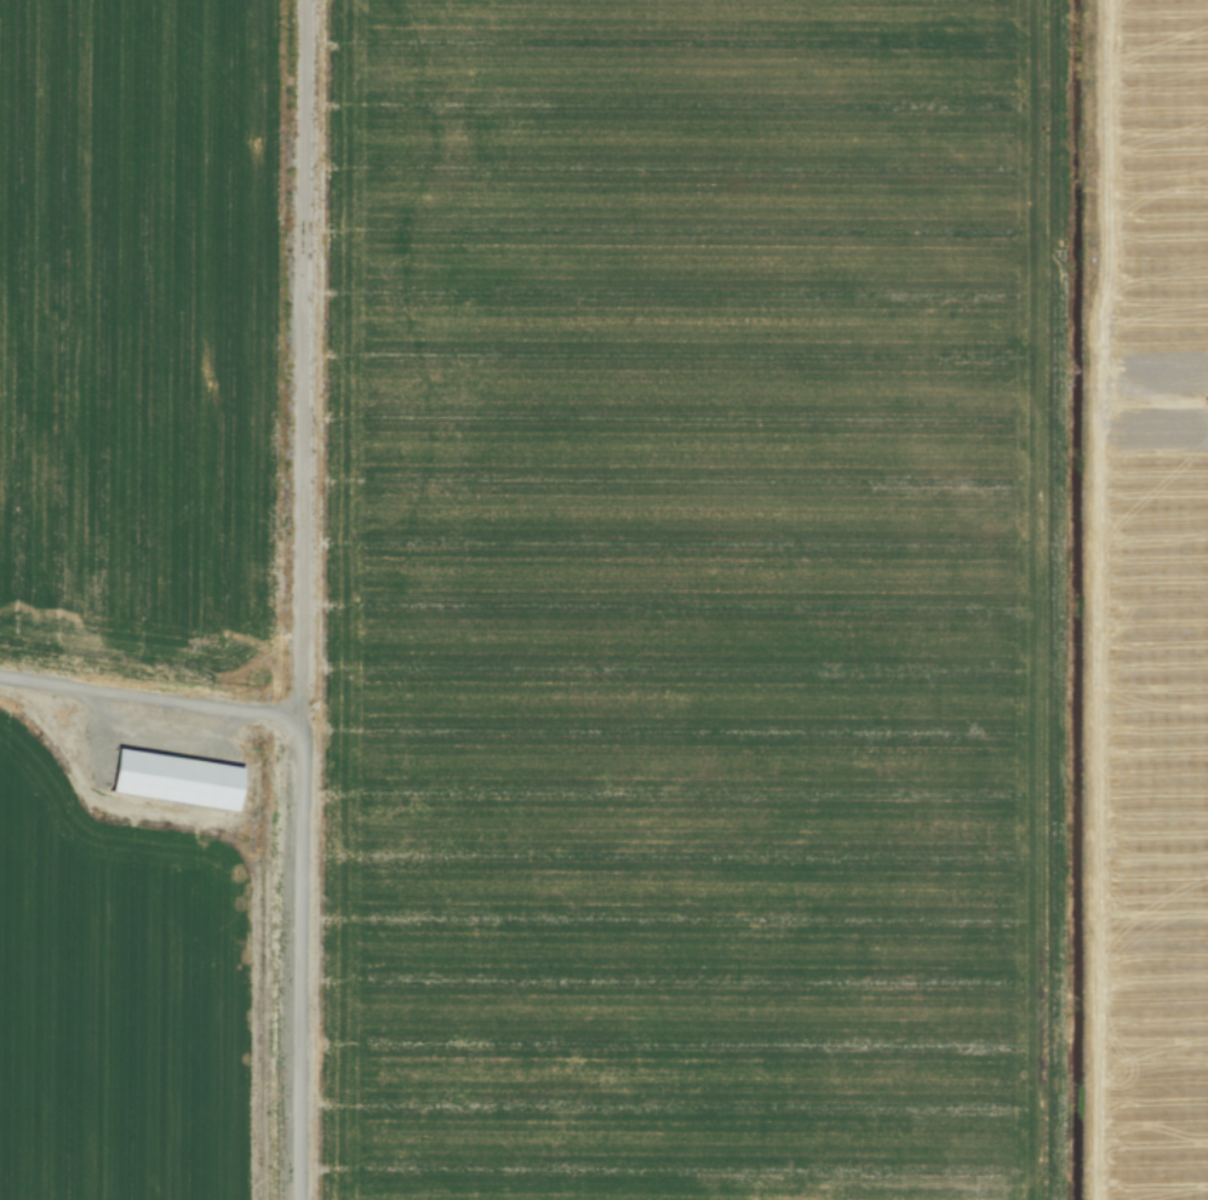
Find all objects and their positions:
road: (63, 686)
building: (172, 778)

